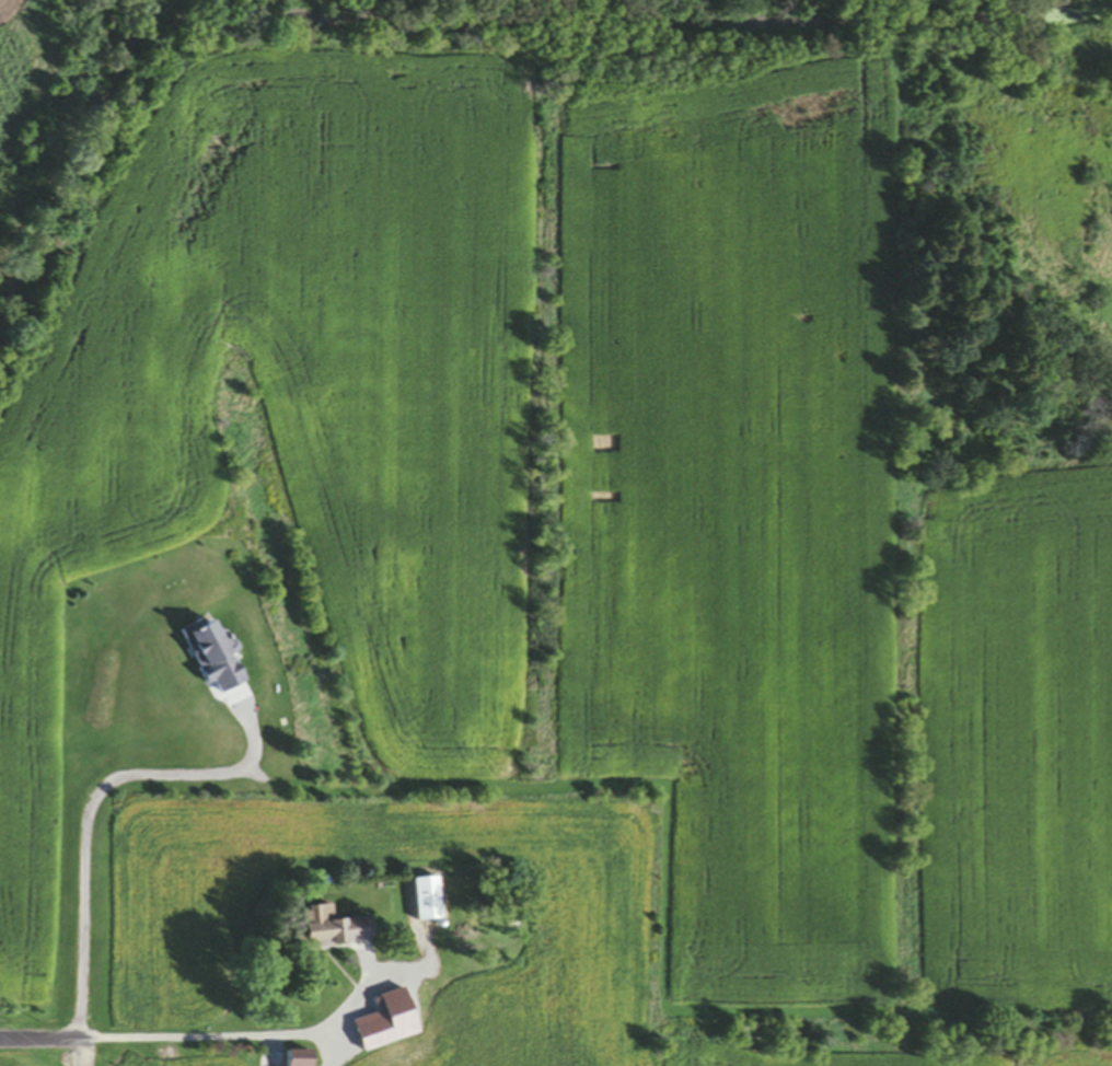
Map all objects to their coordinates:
building: (215, 657)
road: (91, 813)
building: (428, 901)
building: (336, 931)
building: (403, 990)
road: (162, 1039)
building: (301, 1064)

